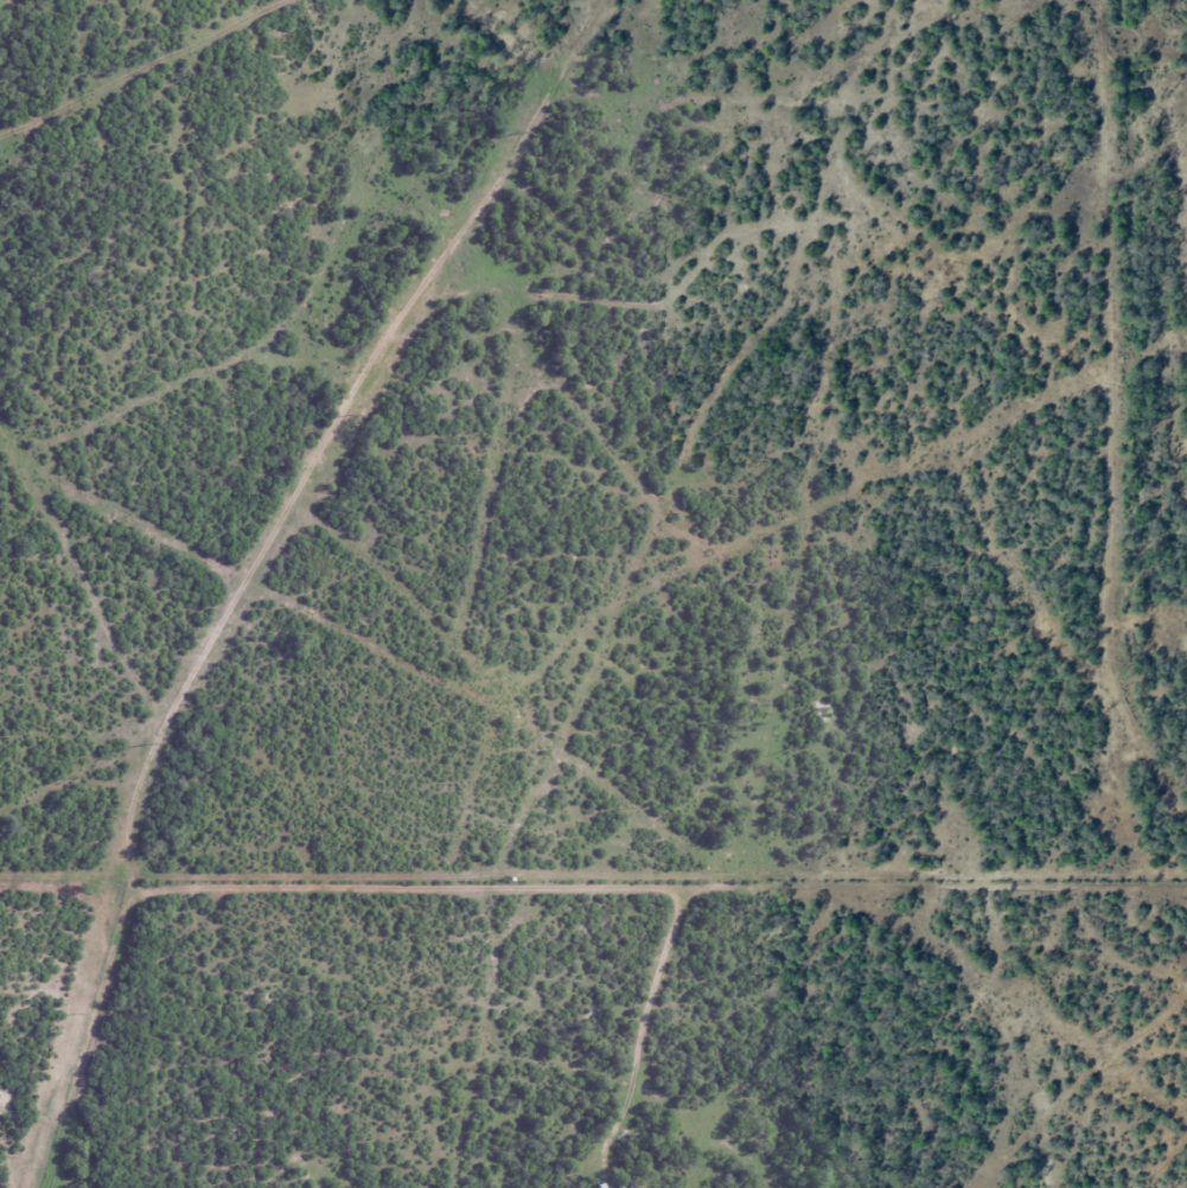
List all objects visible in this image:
power tower: (517, 133)
power tower: (345, 417)
power tower: (147, 746)
power tower: (72, 1015)
building: (632, 1187)

